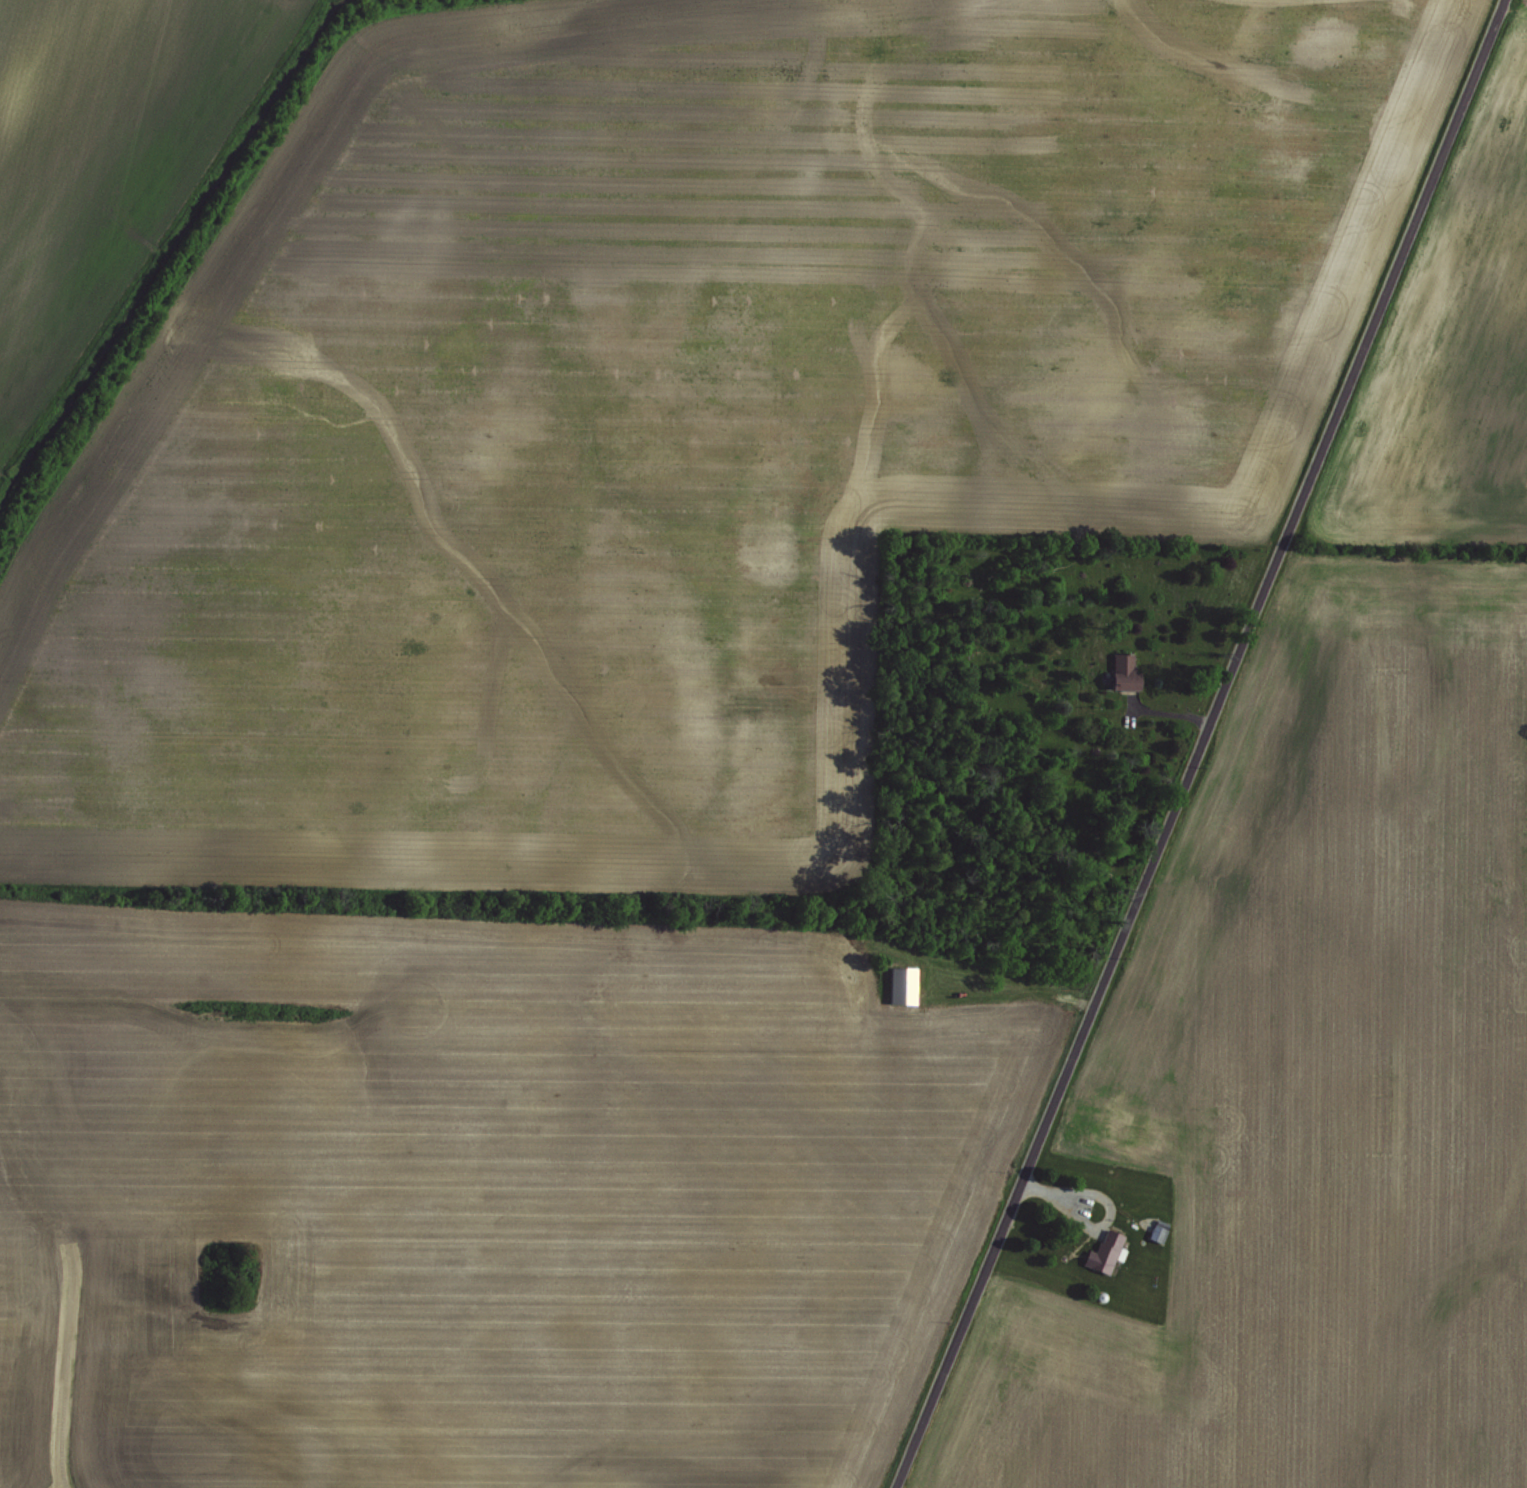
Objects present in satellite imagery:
building: (1119, 669)
road: (1199, 743)
building: (898, 984)
building: (1153, 1232)
building: (1099, 1250)

